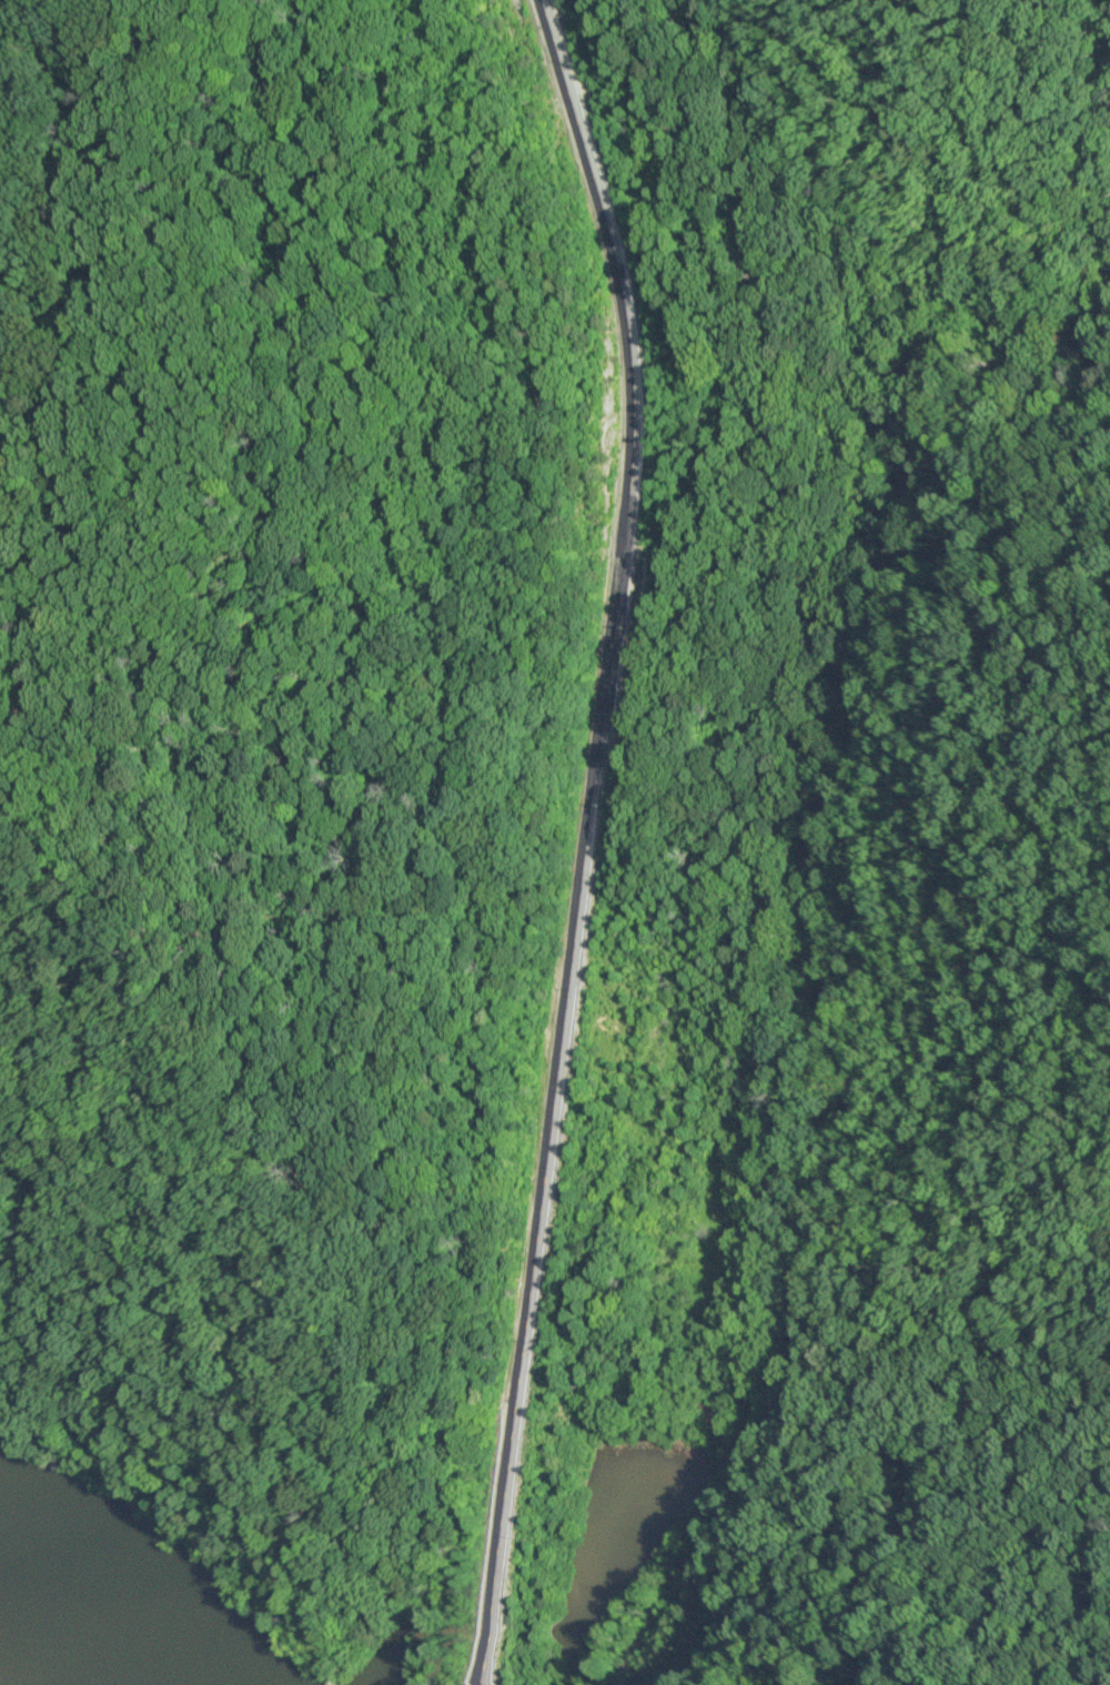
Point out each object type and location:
road: (584, 838)
road: (840, 1011)
river: (48, 1645)

